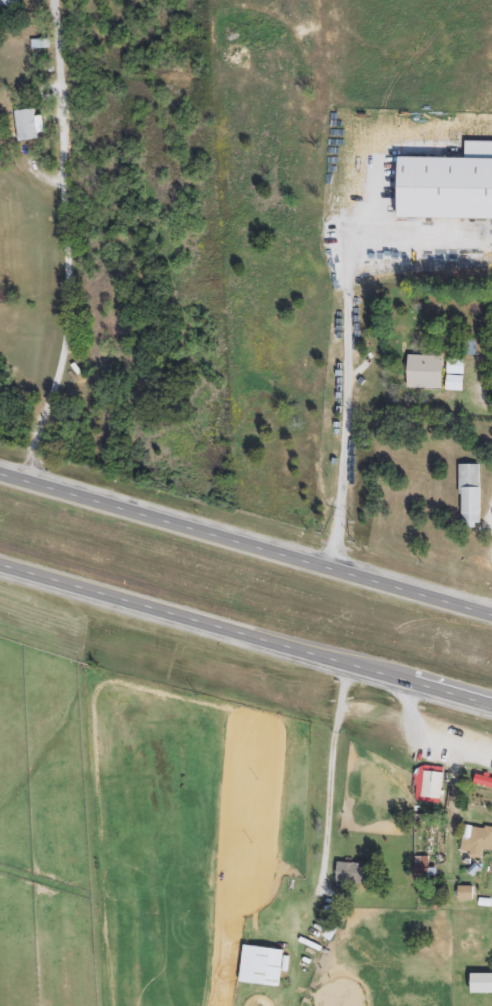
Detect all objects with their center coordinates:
building: (11, 3)
building: (28, 125)
road: (65, 243)
building: (427, 373)
road: (341, 394)
building: (471, 494)
road: (246, 540)
road: (246, 639)
road: (429, 740)
road: (327, 776)
building: (430, 785)
building: (478, 842)
building: (354, 874)
building: (467, 894)
building: (270, 968)

